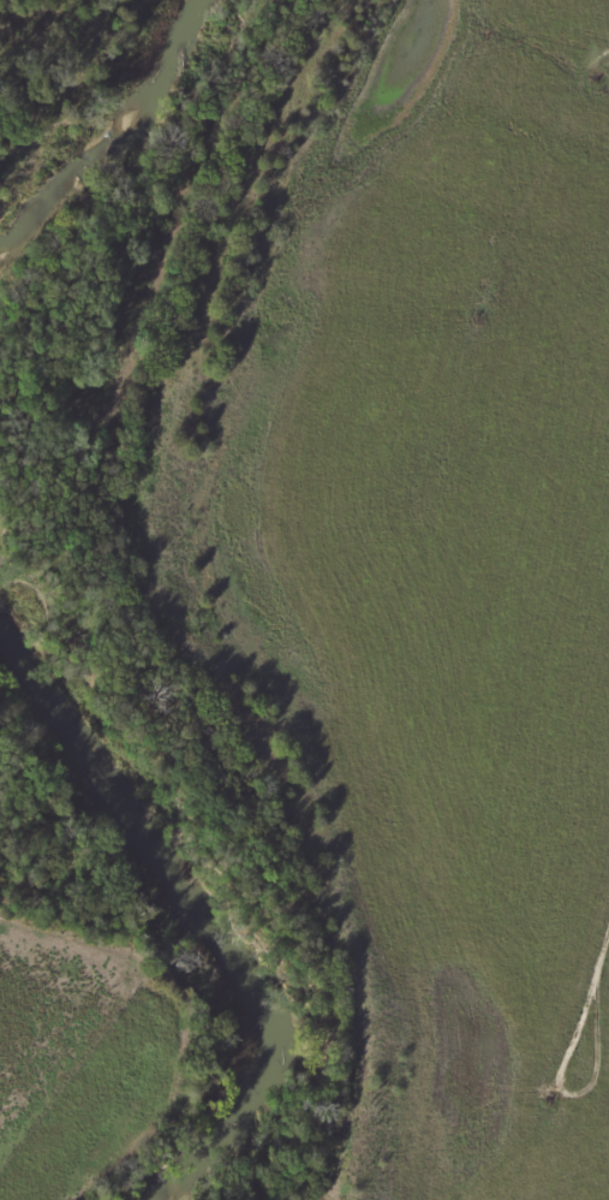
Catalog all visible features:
river: (106, 145)
river: (209, 911)

